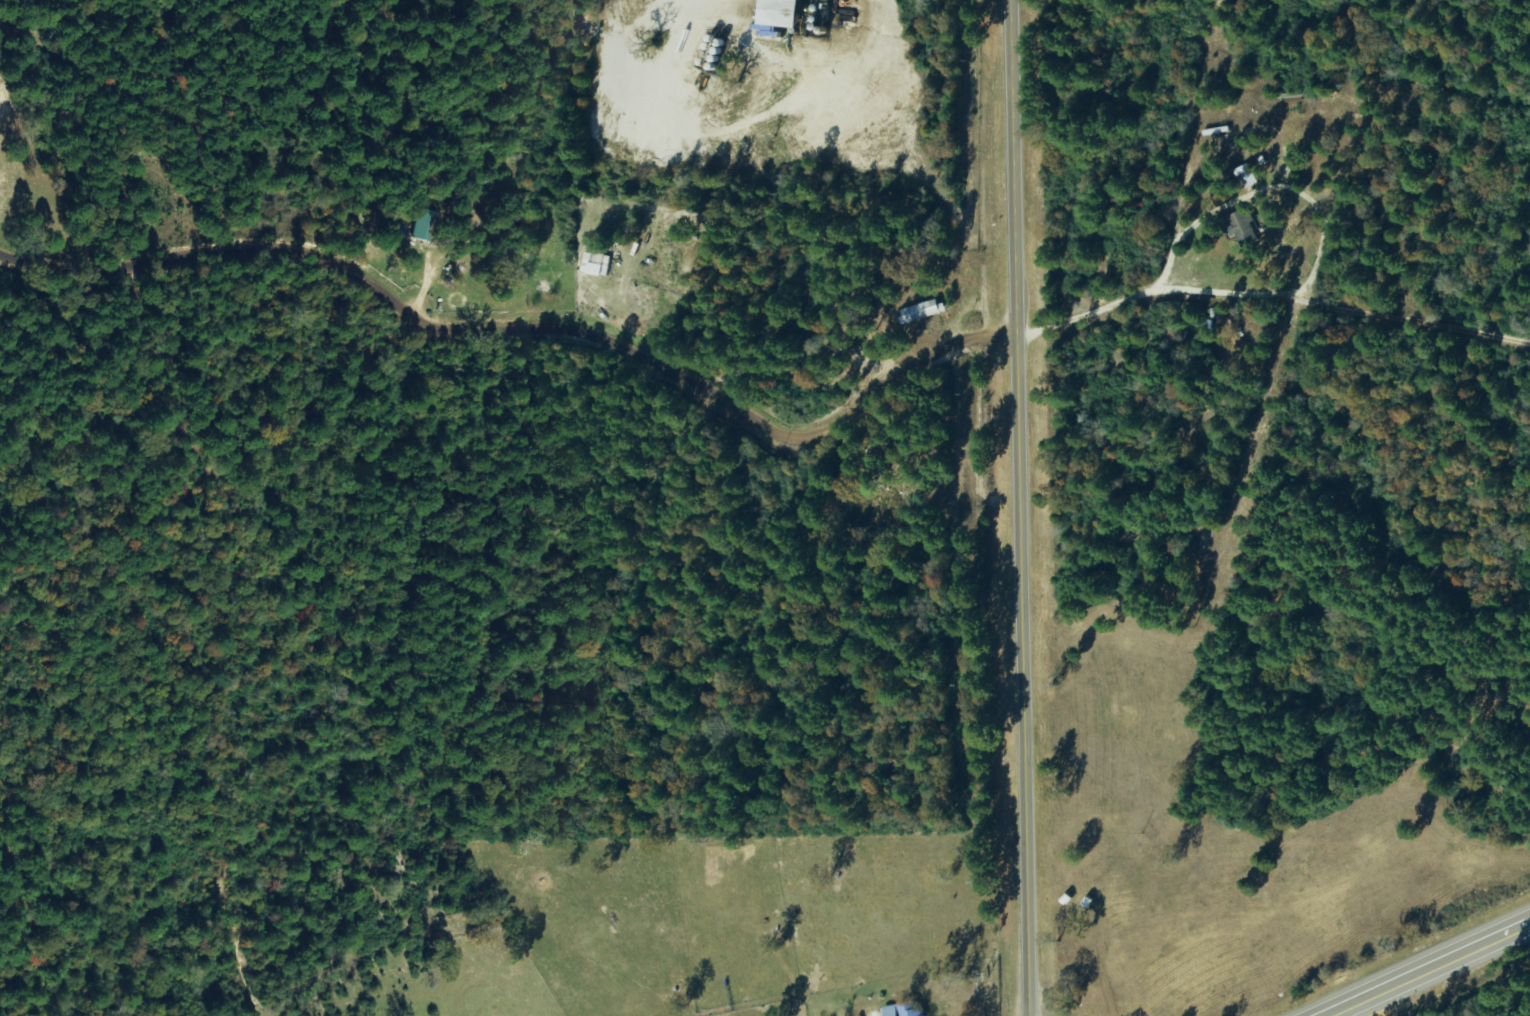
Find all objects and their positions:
building: (775, 13)
road: (1334, 22)
building: (1247, 180)
building: (419, 226)
building: (1241, 227)
building: (595, 265)
building: (919, 312)
road: (526, 357)
road: (1020, 508)
road: (1429, 970)
building: (904, 1010)

